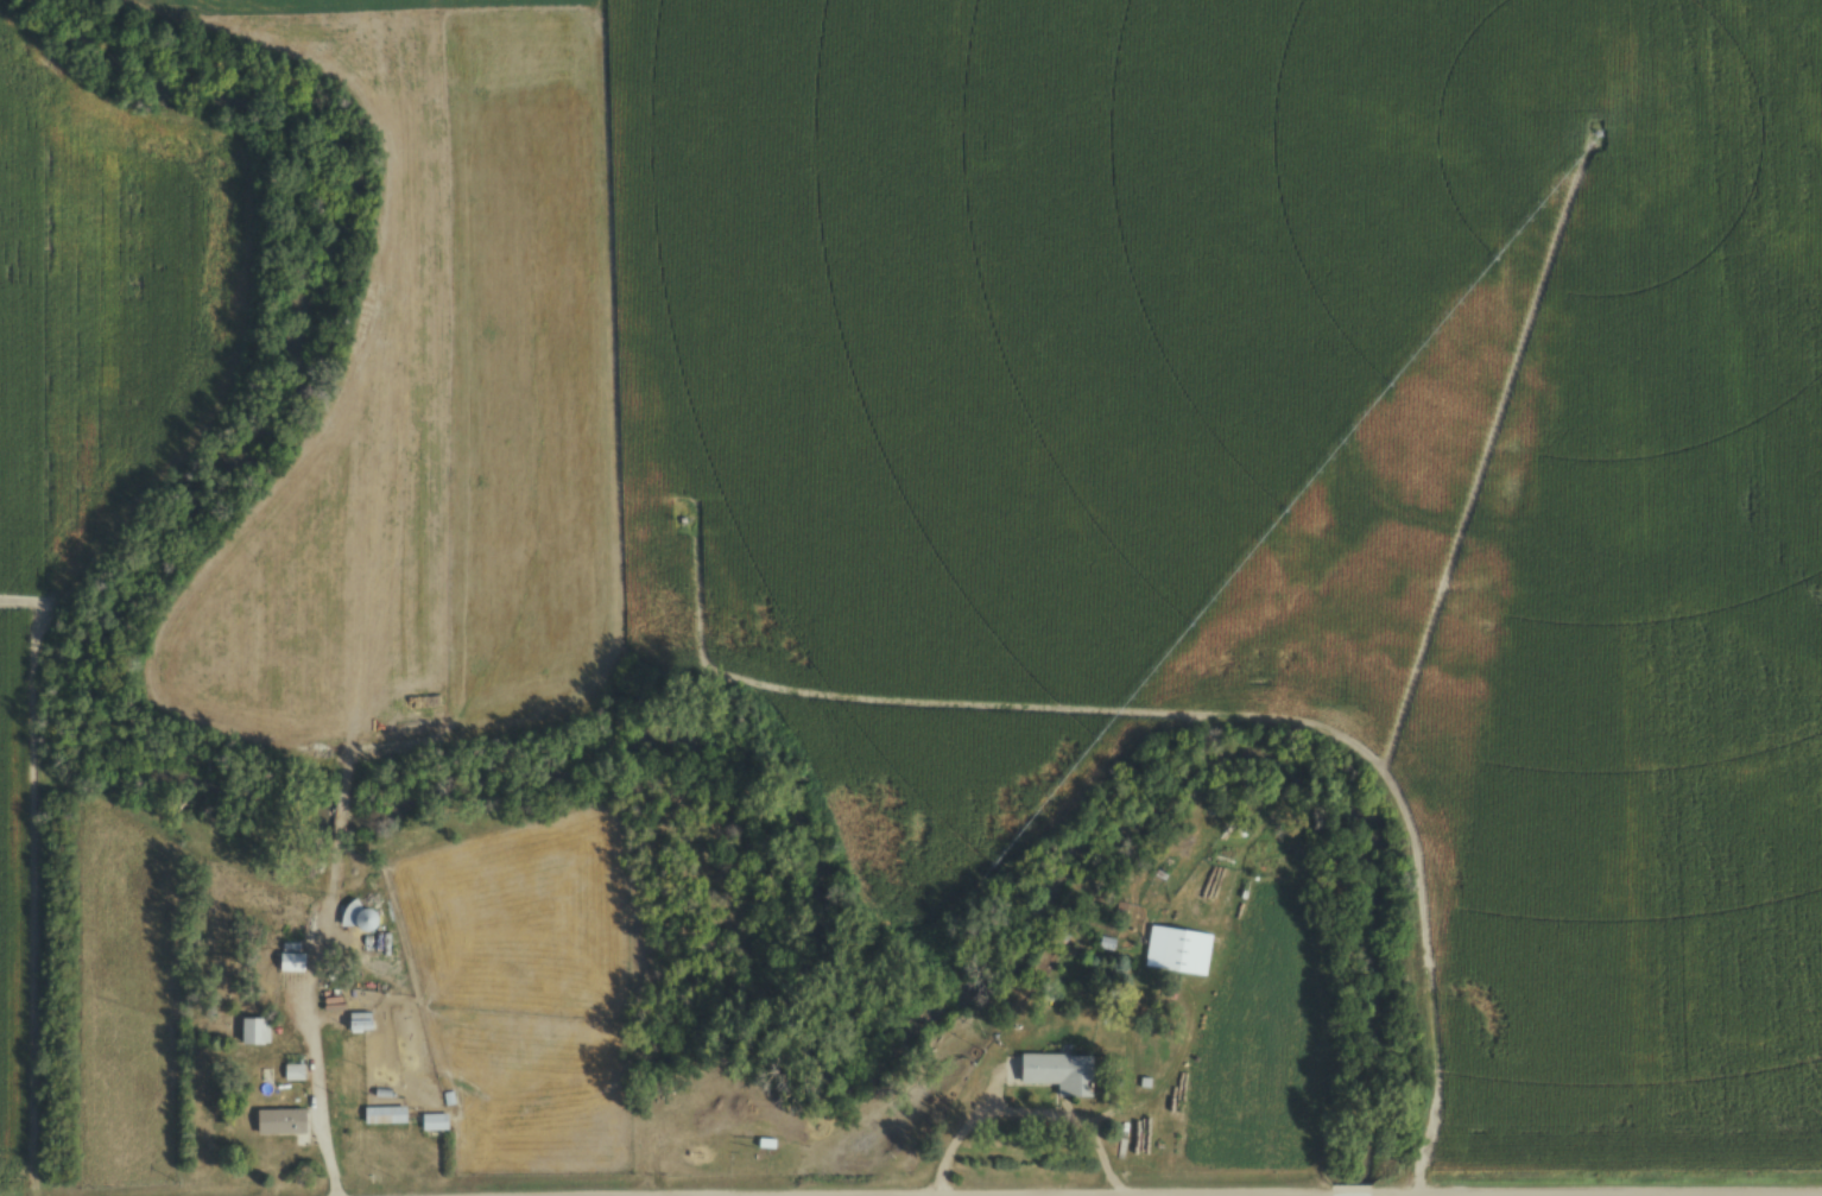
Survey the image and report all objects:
building: (363, 922)
building: (1184, 953)
building: (290, 963)
building: (253, 1033)
building: (1058, 1074)
road: (318, 1086)
road: (1026, 1109)
building: (384, 1116)
building: (279, 1122)
building: (432, 1122)
road: (1226, 1195)

